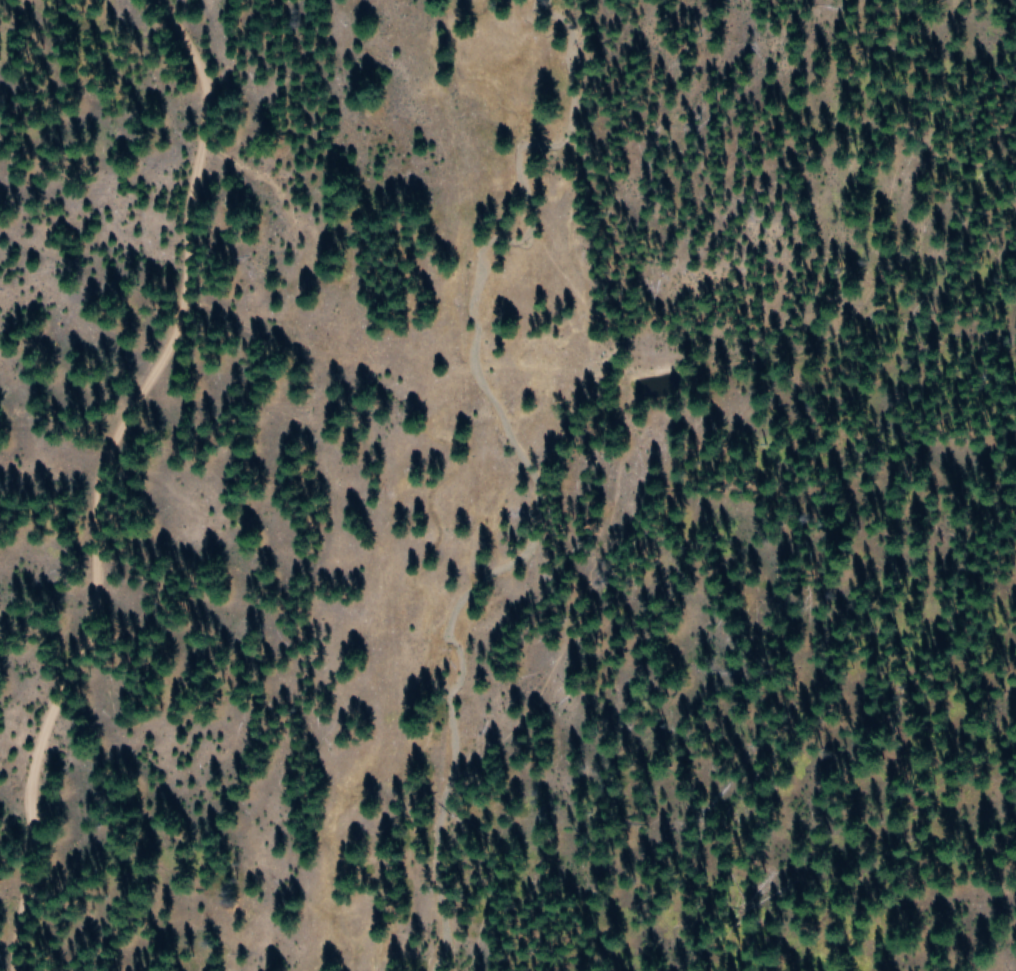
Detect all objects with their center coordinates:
road: (102, 475)

